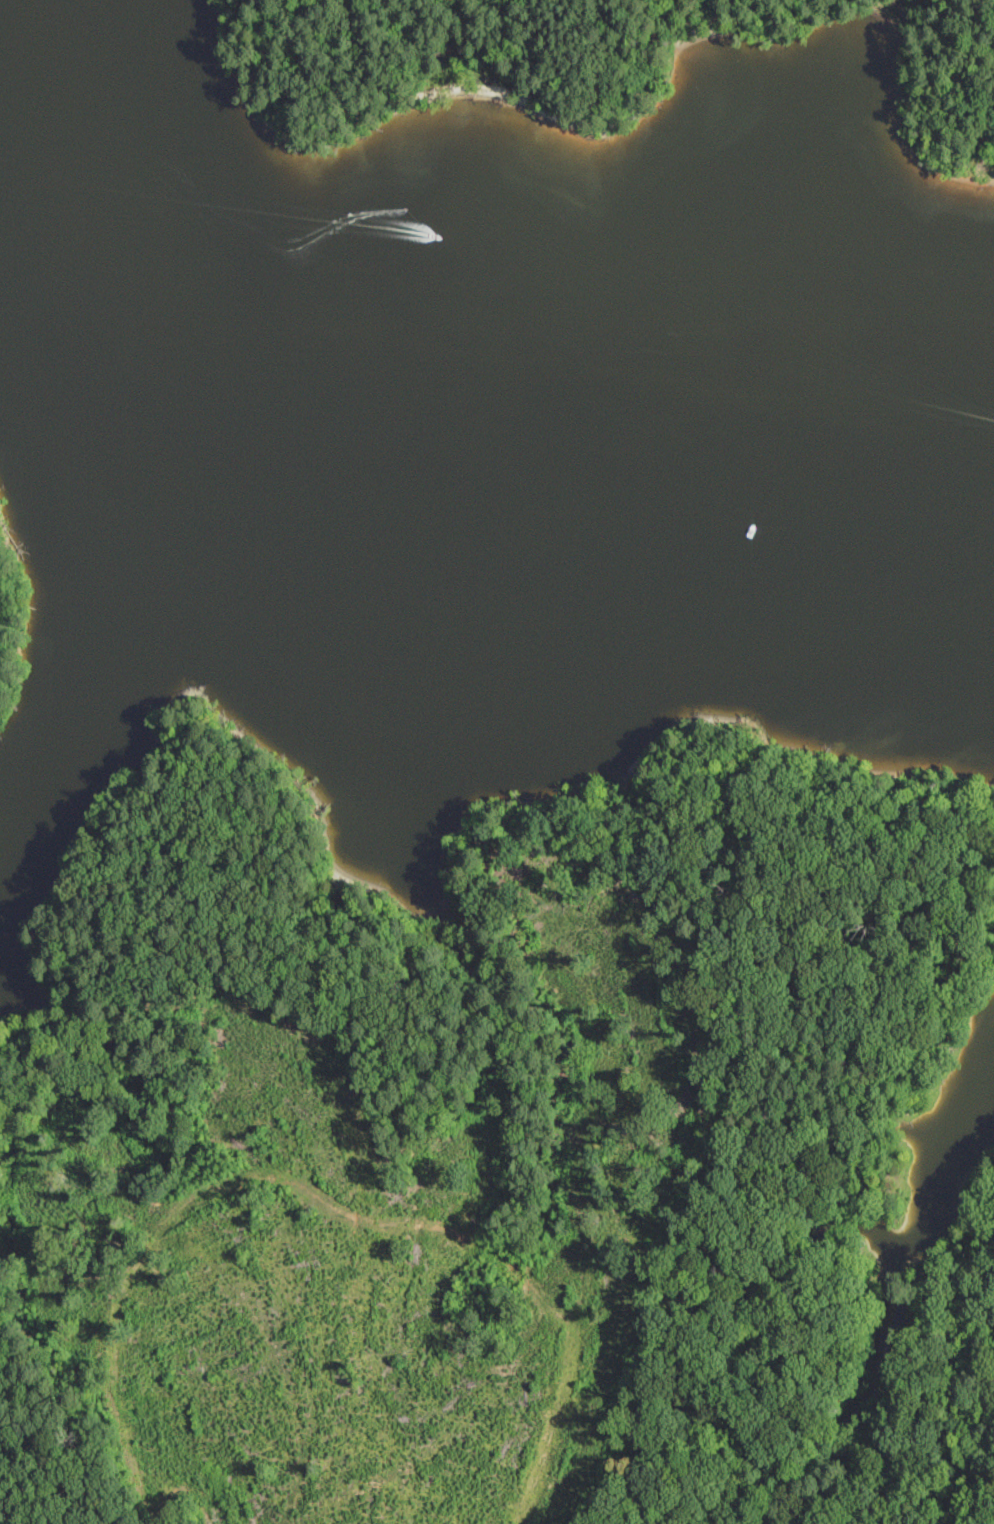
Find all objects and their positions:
park: (587, 74)
river: (190, 222)
river: (687, 442)
road: (721, 832)
road: (907, 1411)

